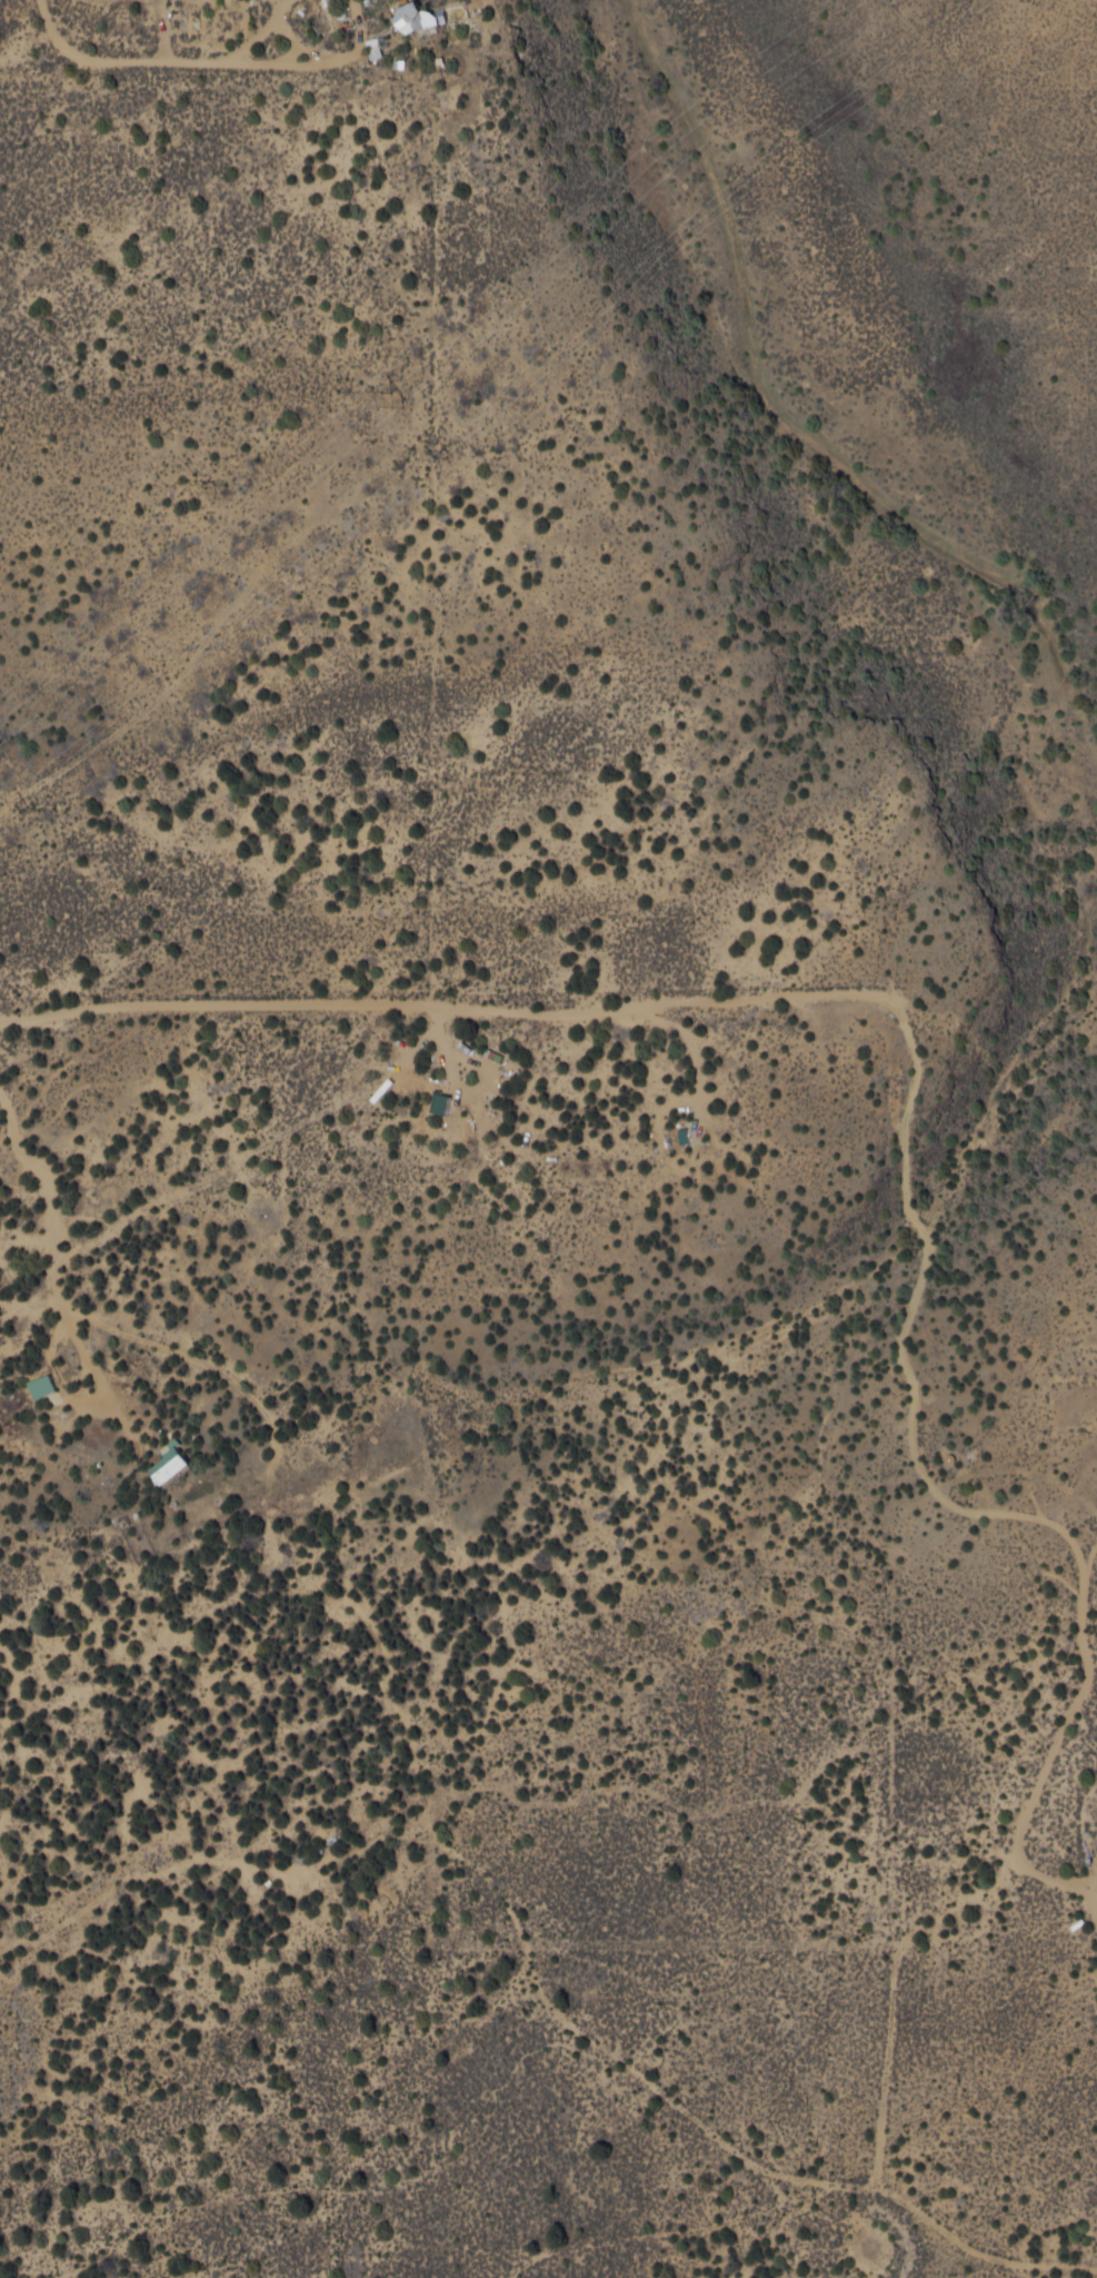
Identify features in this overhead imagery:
building: (422, 18)
power tower: (390, 400)
power tower: (453, 454)
power tower: (33, 802)
building: (443, 1102)
building: (685, 1135)
building: (44, 1385)
building: (177, 1462)
road: (463, 1831)
road: (937, 2242)

